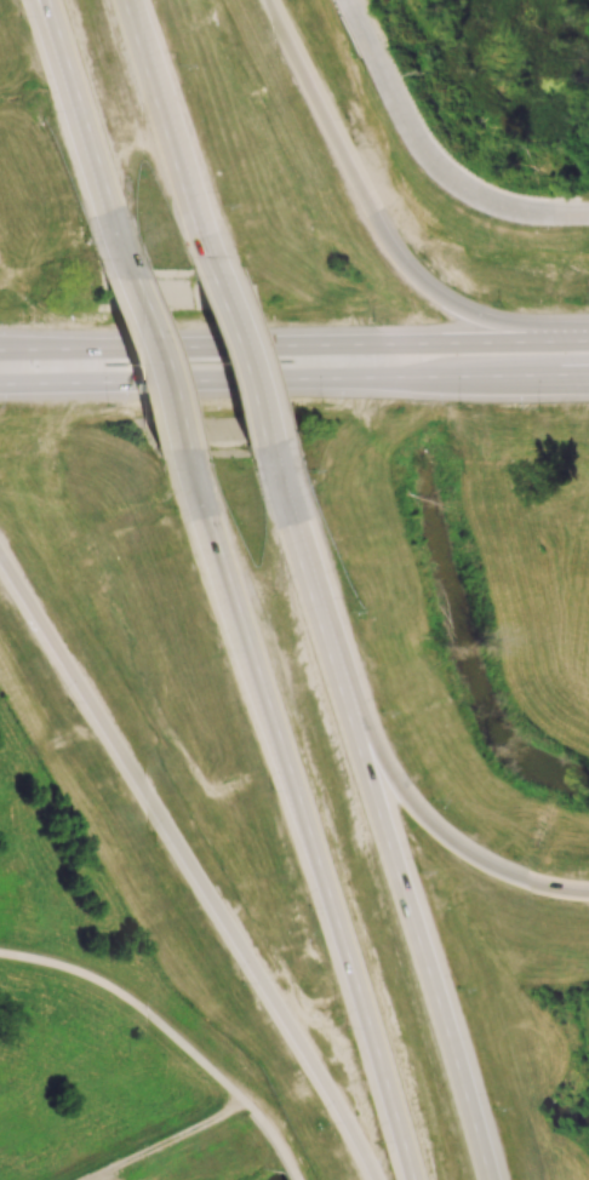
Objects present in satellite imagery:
road: (48, 35)
power tower: (441, 75)
road: (78, 118)
road: (165, 119)
road: (431, 154)
road: (382, 222)
road: (294, 342)
road: (149, 349)
road: (238, 349)
road: (533, 377)
road: (279, 382)
road: (533, 383)
road: (39, 386)
road: (298, 819)
road: (381, 820)
road: (453, 841)
road: (190, 867)
road: (173, 1032)
road: (168, 1140)

